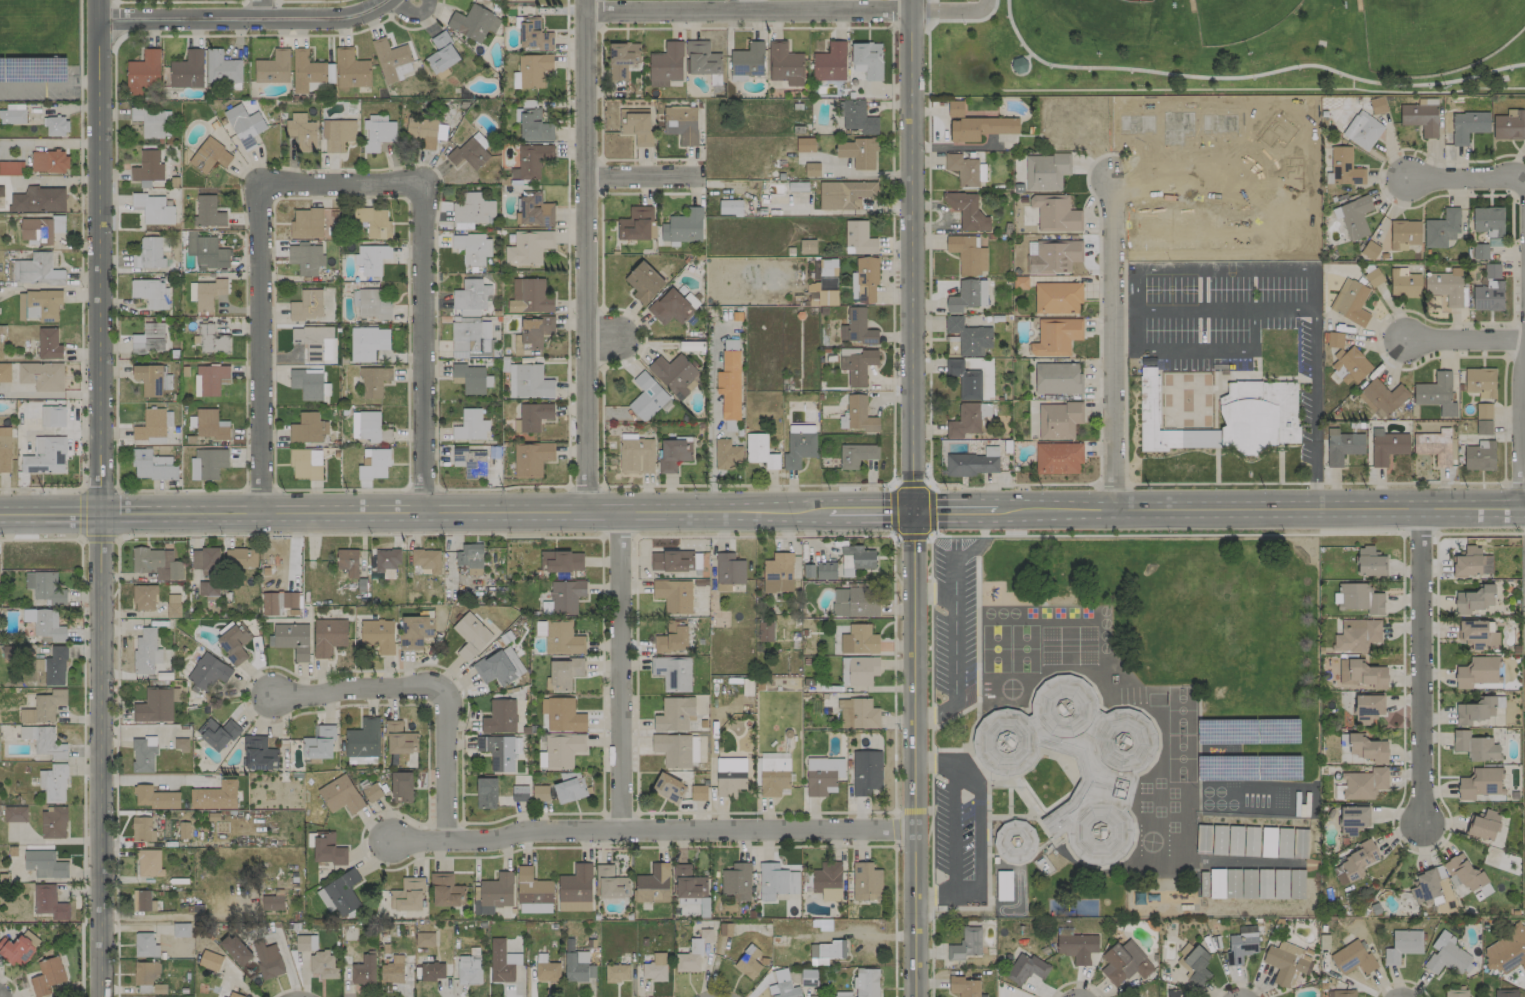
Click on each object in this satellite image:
building: (123, 0)
road: (745, 5)
road: (260, 9)
road: (749, 10)
road: (950, 11)
road: (239, 19)
park: (1239, 19)
building: (474, 23)
park: (38, 32)
building: (533, 34)
park: (1437, 34)
park: (1221, 48)
building: (441, 54)
building: (702, 58)
building: (868, 59)
building: (392, 60)
building: (621, 60)
building: (747, 61)
building: (830, 63)
building: (784, 64)
building: (666, 65)
building: (1021, 65)
building: (273, 67)
building: (221, 68)
building: (350, 69)
building: (533, 69)
building: (187, 70)
building: (305, 70)
building: (143, 72)
road: (48, 84)
building: (1377, 105)
building: (955, 109)
building: (1524, 113)
building: (12, 114)
building: (1421, 116)
building: (856, 117)
building: (152, 122)
building: (1448, 123)
building: (681, 124)
building: (635, 125)
building: (1467, 125)
building: (1508, 125)
building: (55, 126)
building: (244, 126)
building: (534, 126)
building: (979, 128)
building: (1363, 130)
building: (301, 131)
building: (376, 132)
building: (425, 132)
building: (337, 134)
building: (805, 145)
building: (470, 151)
building: (857, 153)
building: (209, 156)
building: (48, 161)
building: (531, 161)
building: (1343, 167)
building: (11, 168)
building: (147, 168)
building: (811, 169)
building: (966, 170)
building: (1046, 171)
road: (643, 175)
road: (1464, 182)
road: (1171, 183)
road: (344, 185)
building: (845, 194)
building: (38, 200)
building: (730, 207)
building: (154, 209)
building: (472, 209)
building: (534, 211)
building: (967, 211)
building: (208, 212)
building: (1055, 213)
building: (1352, 215)
building: (373, 221)
building: (1488, 221)
building: (328, 222)
building: (306, 224)
building: (635, 224)
building: (683, 226)
building: (41, 229)
building: (1441, 229)
building: (1404, 234)
building: (858, 238)
building: (807, 246)
building: (528, 247)
building: (472, 248)
building: (1370, 249)
building: (205, 251)
building: (1480, 251)
building: (149, 254)
building: (967, 254)
road: (912, 255)
building: (1053, 256)
road: (586, 257)
building: (306, 258)
road: (98, 259)
building: (371, 259)
building: (35, 270)
road: (1127, 270)
road: (1248, 270)
building: (1492, 271)
building: (1373, 277)
building: (864, 281)
building: (643, 282)
building: (1404, 283)
building: (1446, 287)
building: (150, 293)
building: (208, 293)
building: (968, 295)
building: (532, 296)
building: (1488, 296)
building: (471, 297)
building: (1057, 297)
building: (1350, 302)
building: (371, 304)
building: (38, 305)
building: (306, 305)
building: (669, 307)
road: (1144, 311)
road: (1228, 312)
road: (1127, 313)
building: (463, 317)
building: (856, 328)
building: (533, 332)
building: (969, 337)
building: (1055, 337)
building: (149, 339)
building: (211, 339)
building: (1334, 339)
building: (471, 340)
building: (367, 343)
road: (1464, 343)
building: (48, 344)
road: (1111, 346)
road: (260, 347)
road: (426, 348)
road: (1217, 352)
road: (1126, 353)
building: (856, 364)
building: (1350, 365)
building: (4, 373)
building: (674, 375)
building: (41, 376)
road: (1314, 377)
building: (151, 379)
building: (210, 379)
building: (964, 379)
building: (1057, 379)
building: (373, 381)
building: (528, 382)
building: (1480, 382)
building: (307, 383)
building: (729, 385)
road: (49, 393)
building: (1436, 394)
building: (646, 397)
building: (1382, 397)
road: (1523, 404)
building: (1483, 411)
building: (858, 415)
building: (52, 416)
building: (534, 416)
building: (1226, 418)
road: (711, 419)
building: (969, 420)
building: (1058, 420)
building: (210, 425)
building: (470, 426)
building: (151, 427)
building: (368, 427)
building: (1483, 427)
building: (307, 428)
building: (799, 445)
building: (1342, 446)
building: (1387, 446)
building: (1434, 446)
building: (6, 450)
building: (760, 451)
building: (673, 454)
building: (727, 454)
building: (856, 455)
building: (45, 456)
building: (636, 456)
building: (1479, 456)
building: (531, 458)
building: (1058, 458)
building: (470, 462)
building: (208, 463)
building: (972, 463)
building: (305, 464)
building: (374, 464)
building: (152, 465)
road: (1315, 476)
road: (1513, 481)
road: (1484, 482)
road: (1188, 483)
road: (1266, 483)
road: (746, 484)
road: (1008, 484)
road: (1111, 484)
road: (585, 486)
road: (40, 488)
road: (97, 488)
road: (419, 488)
road: (502, 488)
road: (177, 489)
road: (258, 489)
road: (339, 489)
road: (1053, 510)
road: (291, 511)
road: (928, 511)
road: (80, 531)
building: (240, 558)
building: (470, 558)
building: (204, 559)
building: (855, 559)
building: (426, 560)
building: (561, 560)
building: (387, 561)
building: (670, 561)
building: (348, 562)
building: (1369, 562)
building: (1471, 563)
building: (156, 564)
building: (825, 570)
building: (728, 571)
building: (808, 571)
building: (778, 573)
building: (45, 588)
building: (208, 588)
road: (934, 593)
building: (673, 595)
building: (565, 596)
building: (144, 597)
building: (1358, 598)
building: (1474, 599)
building: (277, 602)
building: (853, 603)
building: (173, 606)
road: (957, 623)
building: (48, 626)
building: (415, 631)
building: (765, 631)
building: (1477, 634)
building: (378, 635)
building: (1357, 635)
building: (328, 636)
building: (470, 636)
building: (672, 637)
building: (562, 638)
building: (291, 639)
building: (859, 640)
building: (234, 643)
building: (146, 651)
building: (55, 666)
building: (499, 667)
road: (1422, 667)
building: (858, 670)
road: (618, 671)
building: (208, 672)
building: (672, 672)
building: (1478, 672)
building: (563, 673)
building: (1361, 674)
road: (343, 690)
building: (154, 706)
building: (44, 707)
building: (1366, 707)
building: (1475, 711)
building: (674, 714)
building: (857, 714)
building: (564, 716)
building: (500, 717)
building: (218, 734)
building: (362, 739)
building: (398, 739)
building: (43, 741)
building: (319, 744)
building: (1475, 746)
building: (1365, 747)
building: (562, 750)
building: (676, 750)
building: (500, 751)
building: (143, 754)
building: (259, 754)
road: (913, 754)
road: (446, 756)
road: (100, 757)
building: (866, 772)
building: (822, 775)
building: (730, 776)
building: (773, 776)
road: (144, 780)
building: (53, 783)
building: (1364, 783)
building: (1480, 783)
building: (401, 787)
building: (569, 787)
building: (668, 787)
building: (372, 792)
building: (486, 793)
building: (519, 793)
building: (540, 793)
building: (698, 793)
building: (340, 795)
building: (214, 796)
building: (155, 798)
building: (15, 814)
building: (1352, 820)
building: (54, 823)
building: (1483, 825)
road: (649, 828)
building: (142, 829)
road: (950, 833)
road: (983, 837)
building: (1203, 839)
building: (1219, 840)
building: (1026, 842)
building: (328, 849)
building: (149, 863)
building: (1354, 863)
building: (44, 864)
building: (1467, 876)
building: (737, 881)
building: (776, 881)
building: (827, 881)
building: (866, 882)
building: (610, 883)
building: (688, 883)
building: (653, 884)
building: (1425, 886)
building: (575, 889)
building: (445, 891)
building: (343, 892)
building: (533, 892)
building: (494, 894)
building: (407, 895)
building: (324, 900)
building: (143, 901)
building: (49, 903)
building: (272, 903)
building: (181, 930)
road: (862, 935)
building: (425, 939)
building: (305, 943)
building: (965, 944)
building: (145, 945)
building: (1402, 945)
building: (1077, 947)
building: (1239, 948)
building: (235, 949)
building: (16, 950)
building: (829, 950)
building: (1505, 951)
building: (1447, 955)
building: (690, 957)
building: (1352, 958)
building: (209, 960)
building: (267, 960)
building: (502, 961)
building: (748, 962)
building: (1124, 963)
building: (1285, 963)
building: (1193, 964)
building: (322, 965)
building: (577, 966)
building: (654, 968)
building: (363, 969)
building: (468, 969)
building: (546, 969)
building: (1026, 969)
building: (392, 970)
building: (432, 971)
building: (616, 973)
building: (46, 976)
building: (145, 976)
building: (866, 982)
road: (11, 984)
building: (783, 986)
building: (965, 987)
building: (1176, 993)
building: (1343, 993)
building: (1456, 993)
building: (1505, 993)
building: (232, 994)
building: (842, 994)

